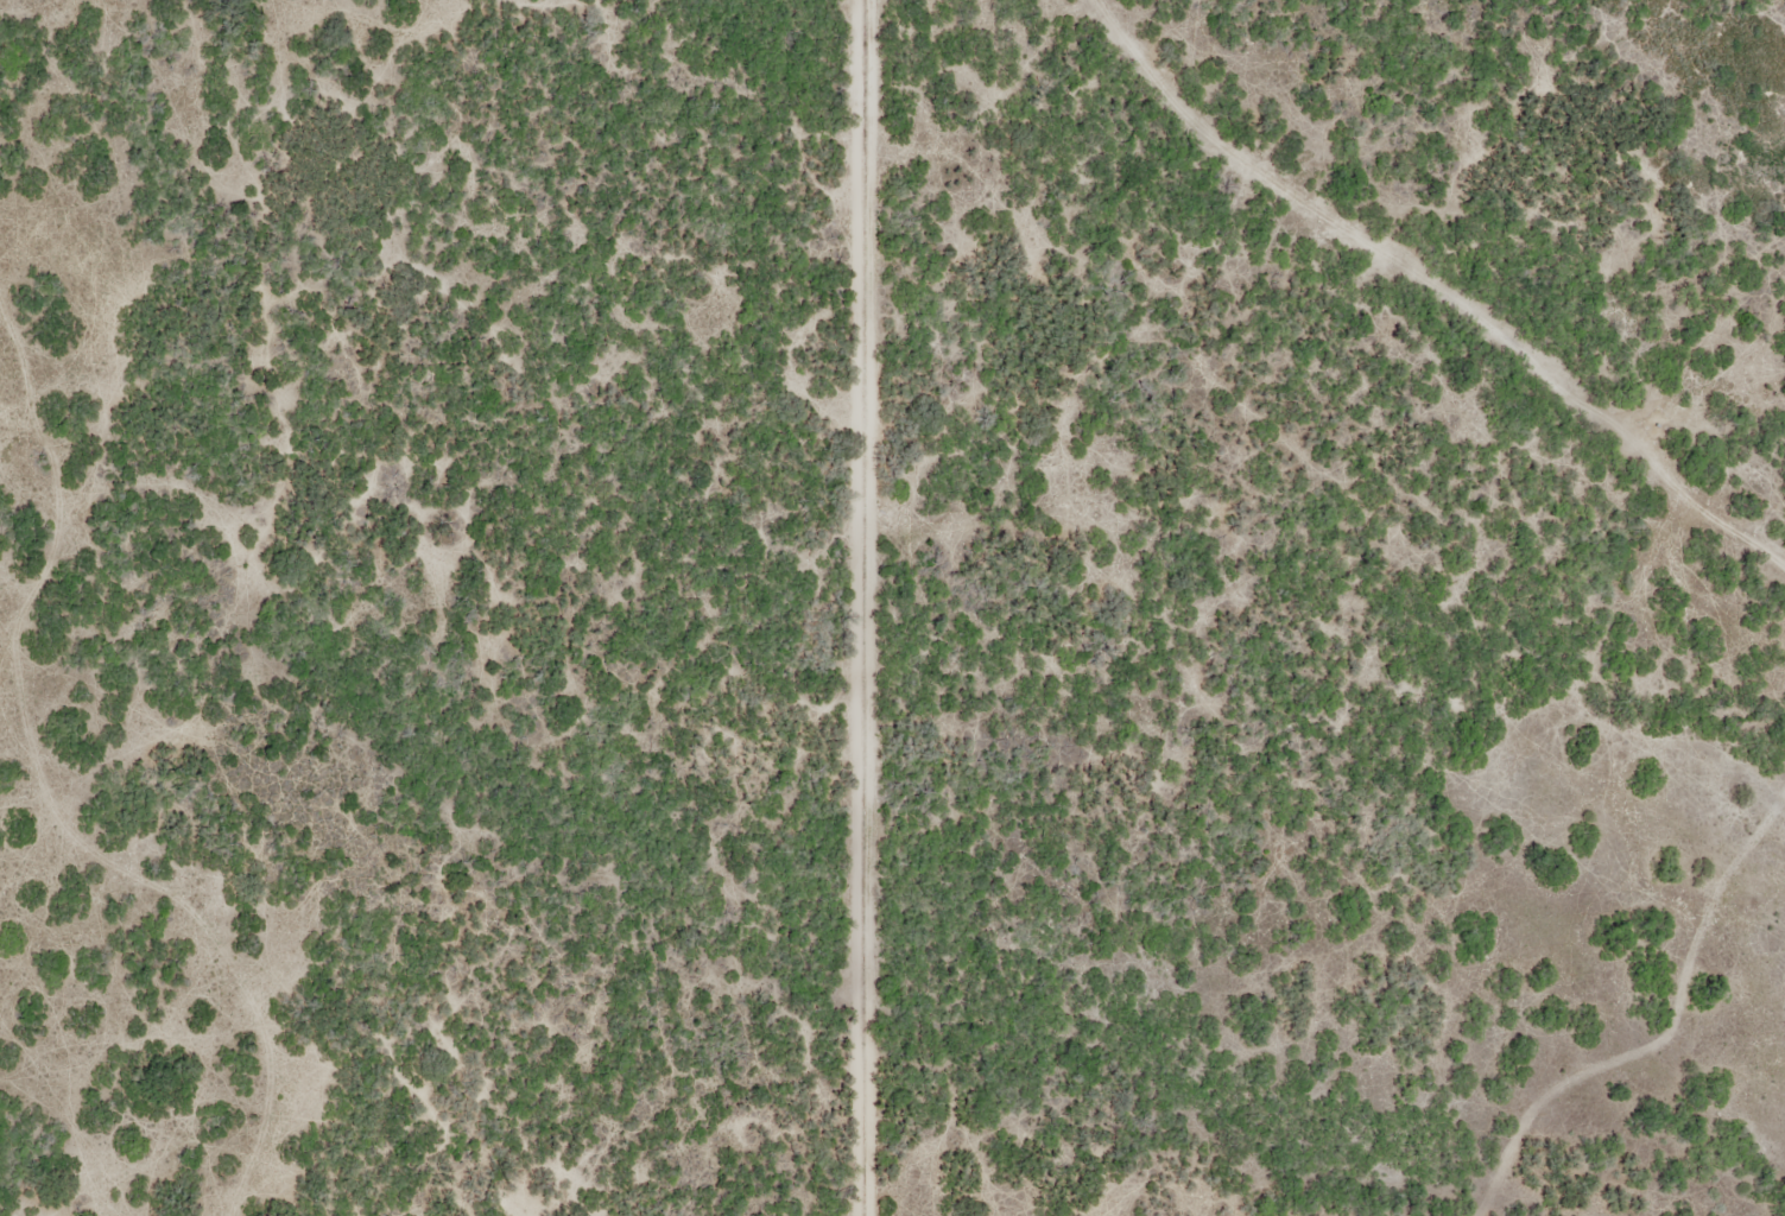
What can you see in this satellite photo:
road: (24, 406)

